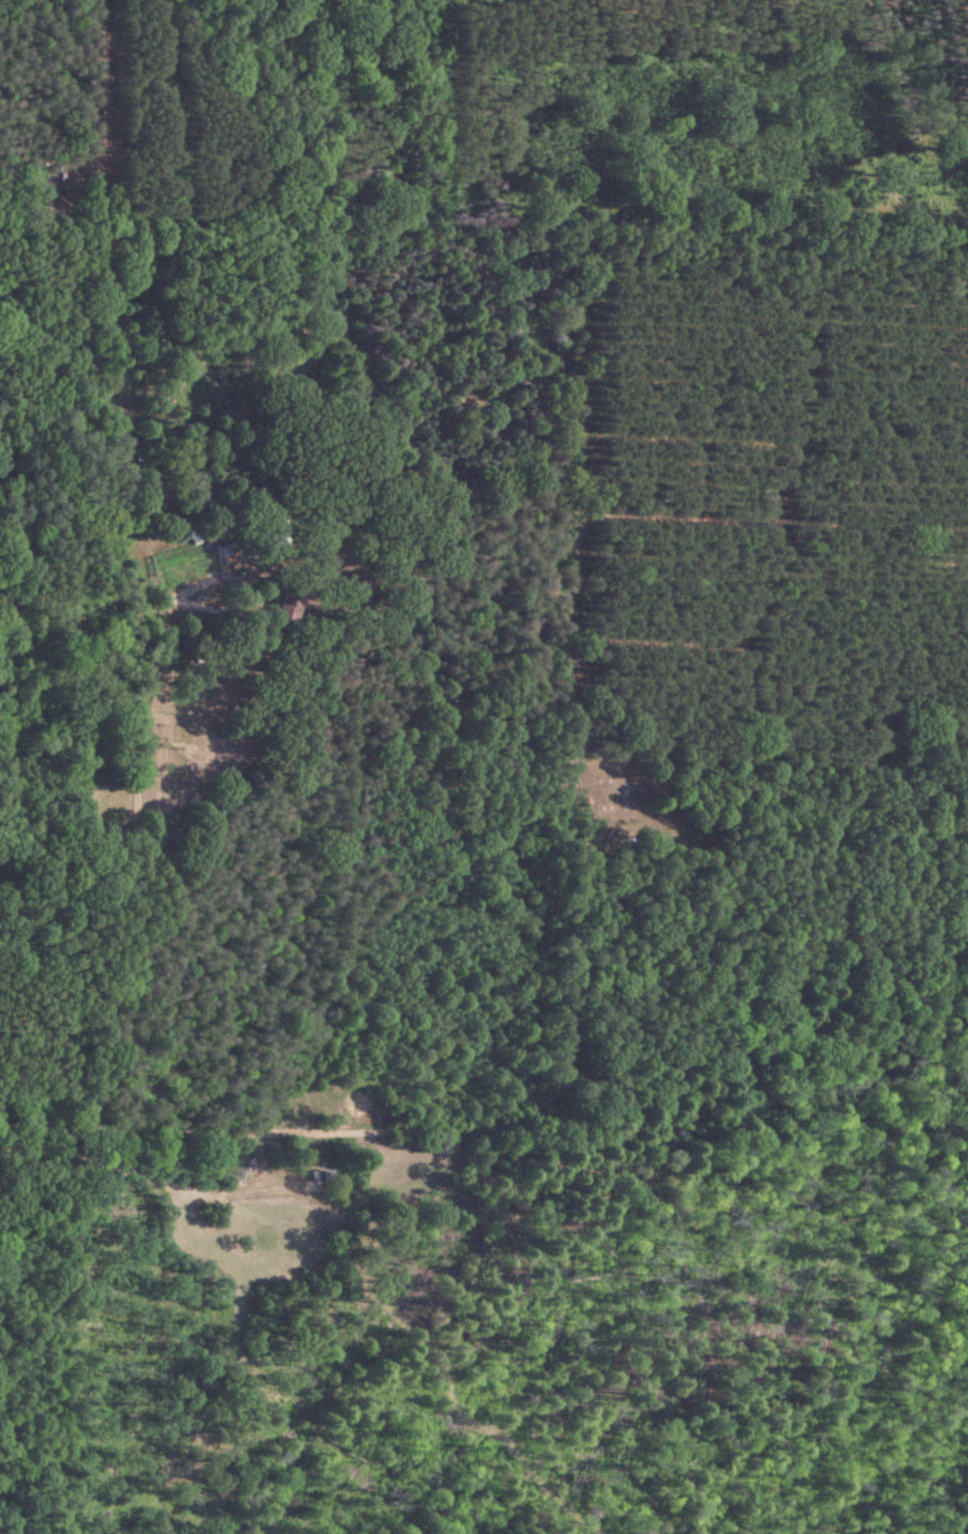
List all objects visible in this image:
building: (227, 552)
road: (171, 554)
building: (322, 1172)
road: (22, 1283)

